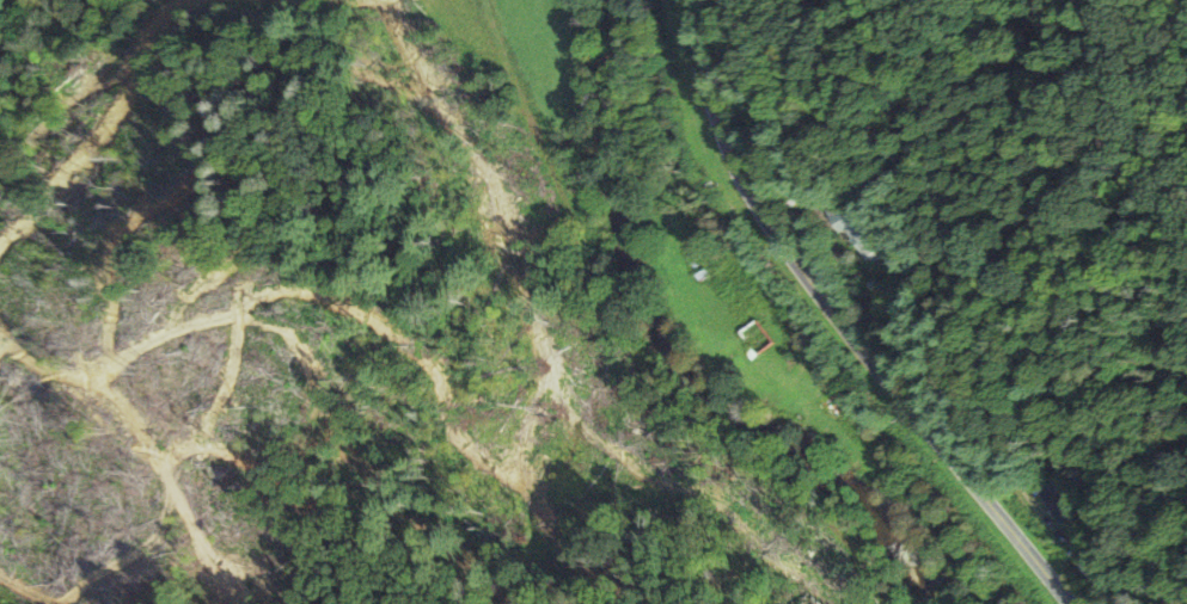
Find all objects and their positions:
building: (851, 229)
road: (844, 320)
building: (1052, 499)

